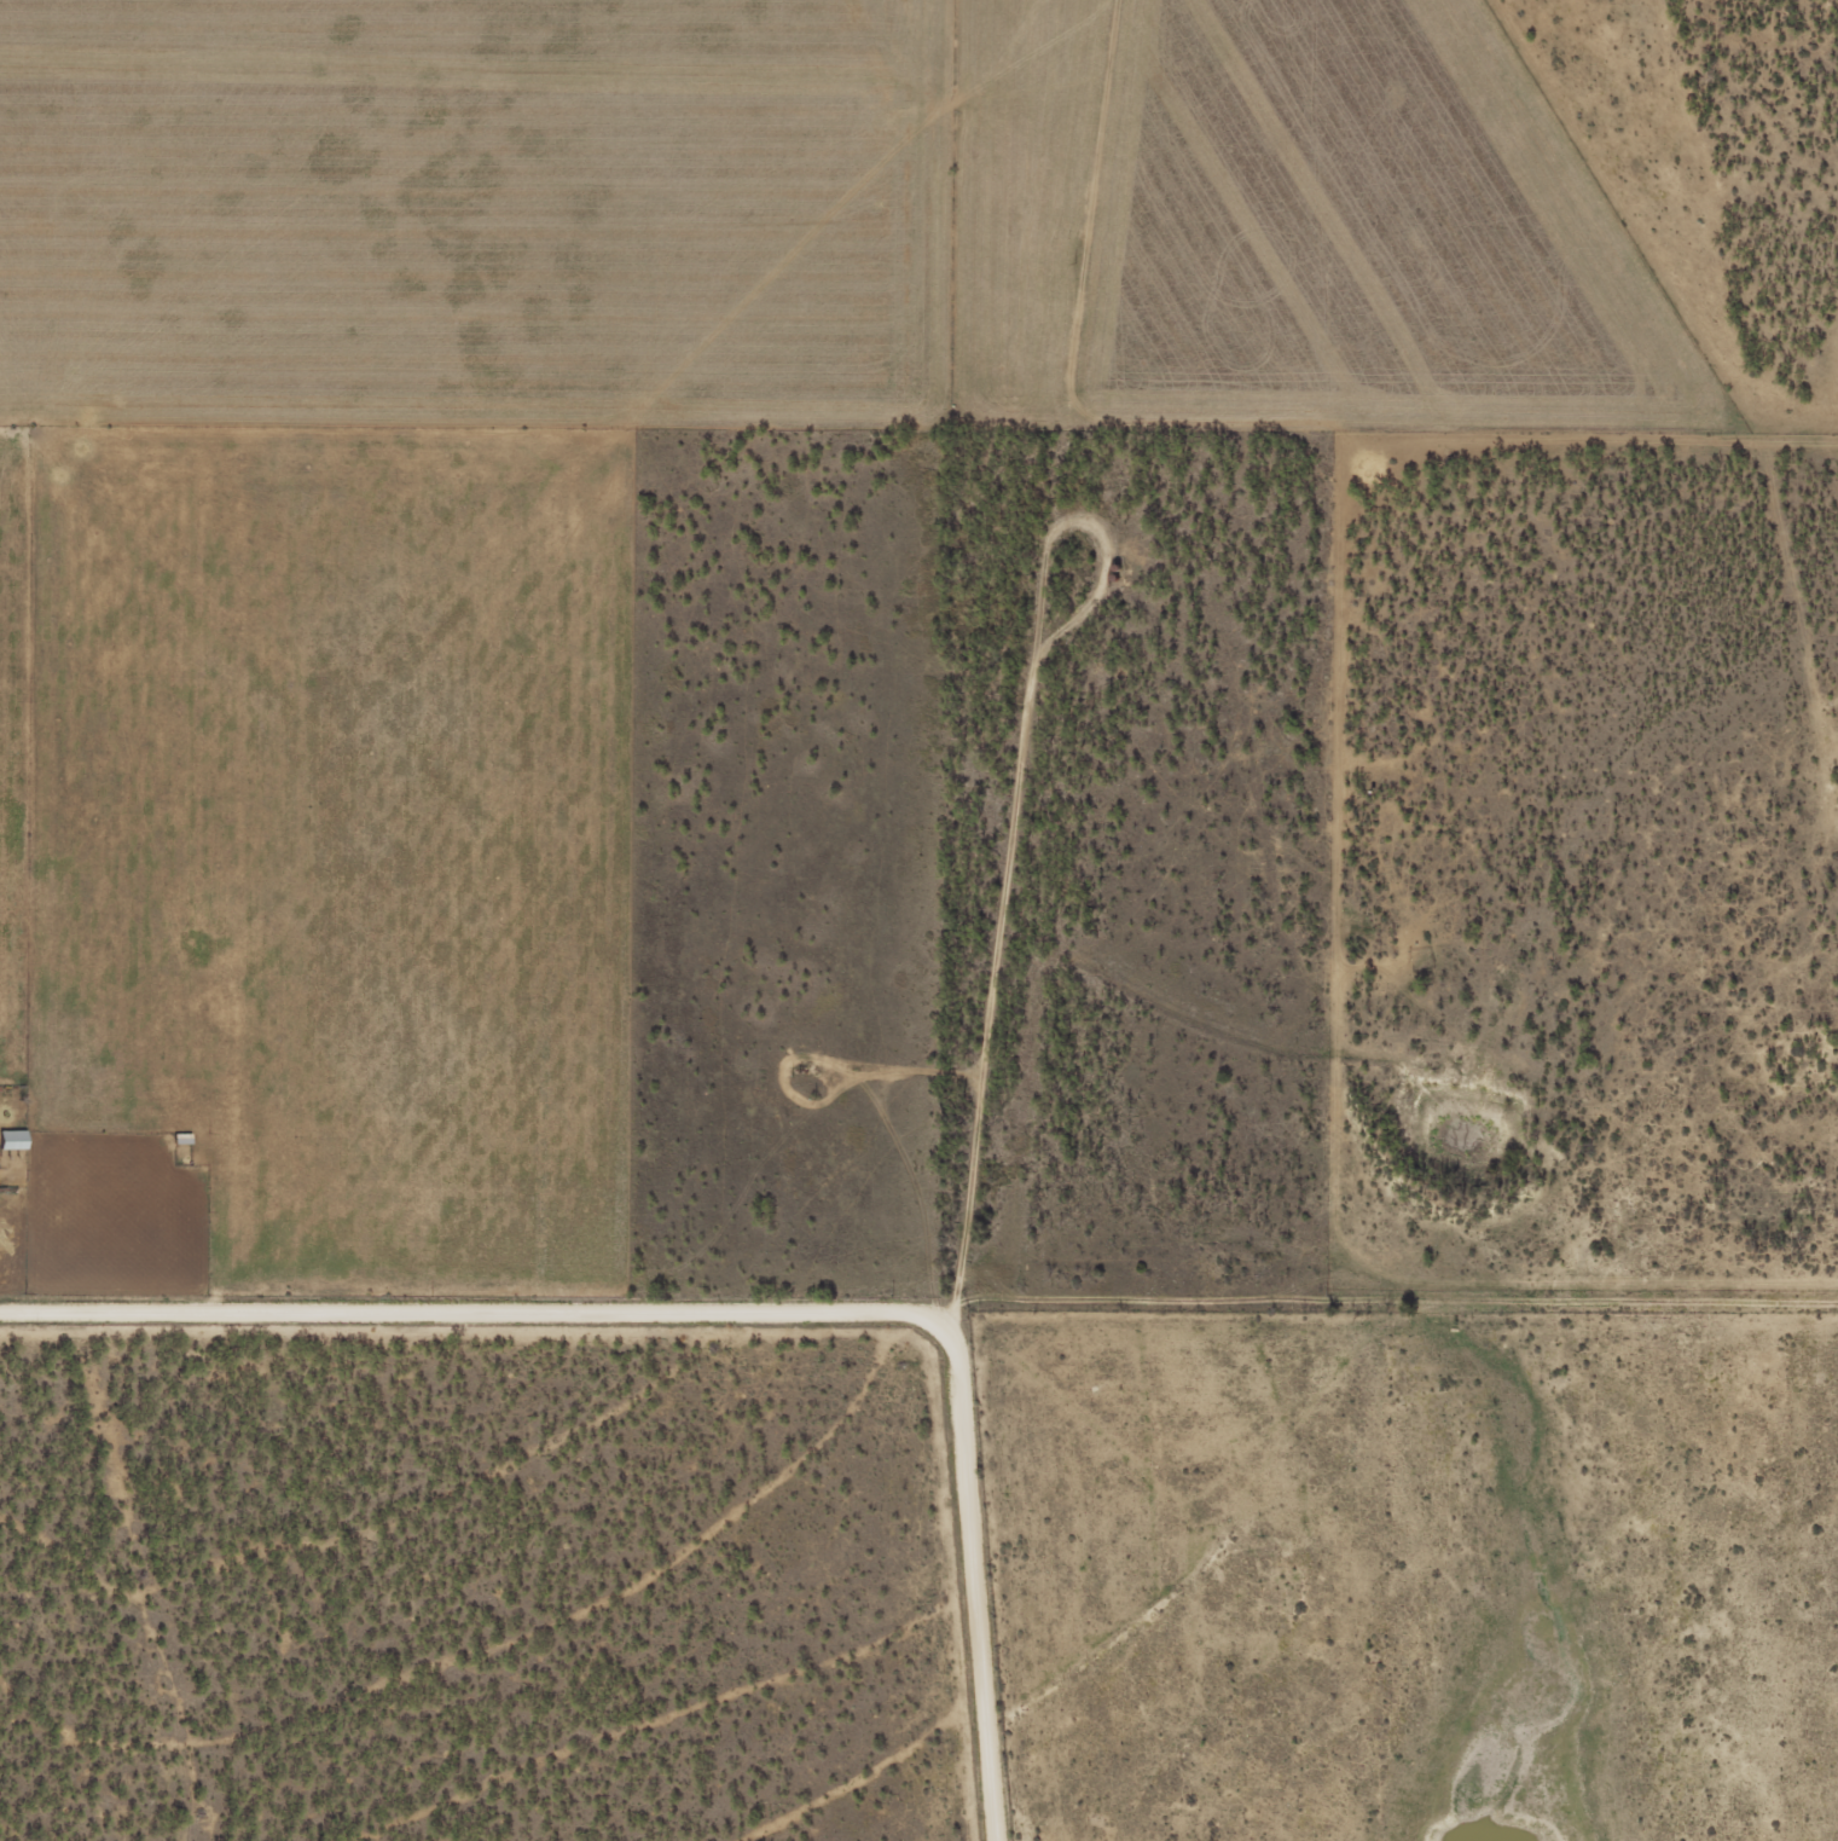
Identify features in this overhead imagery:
road: (1080, 270)
road: (1008, 957)
building: (13, 1139)
road: (714, 1336)

